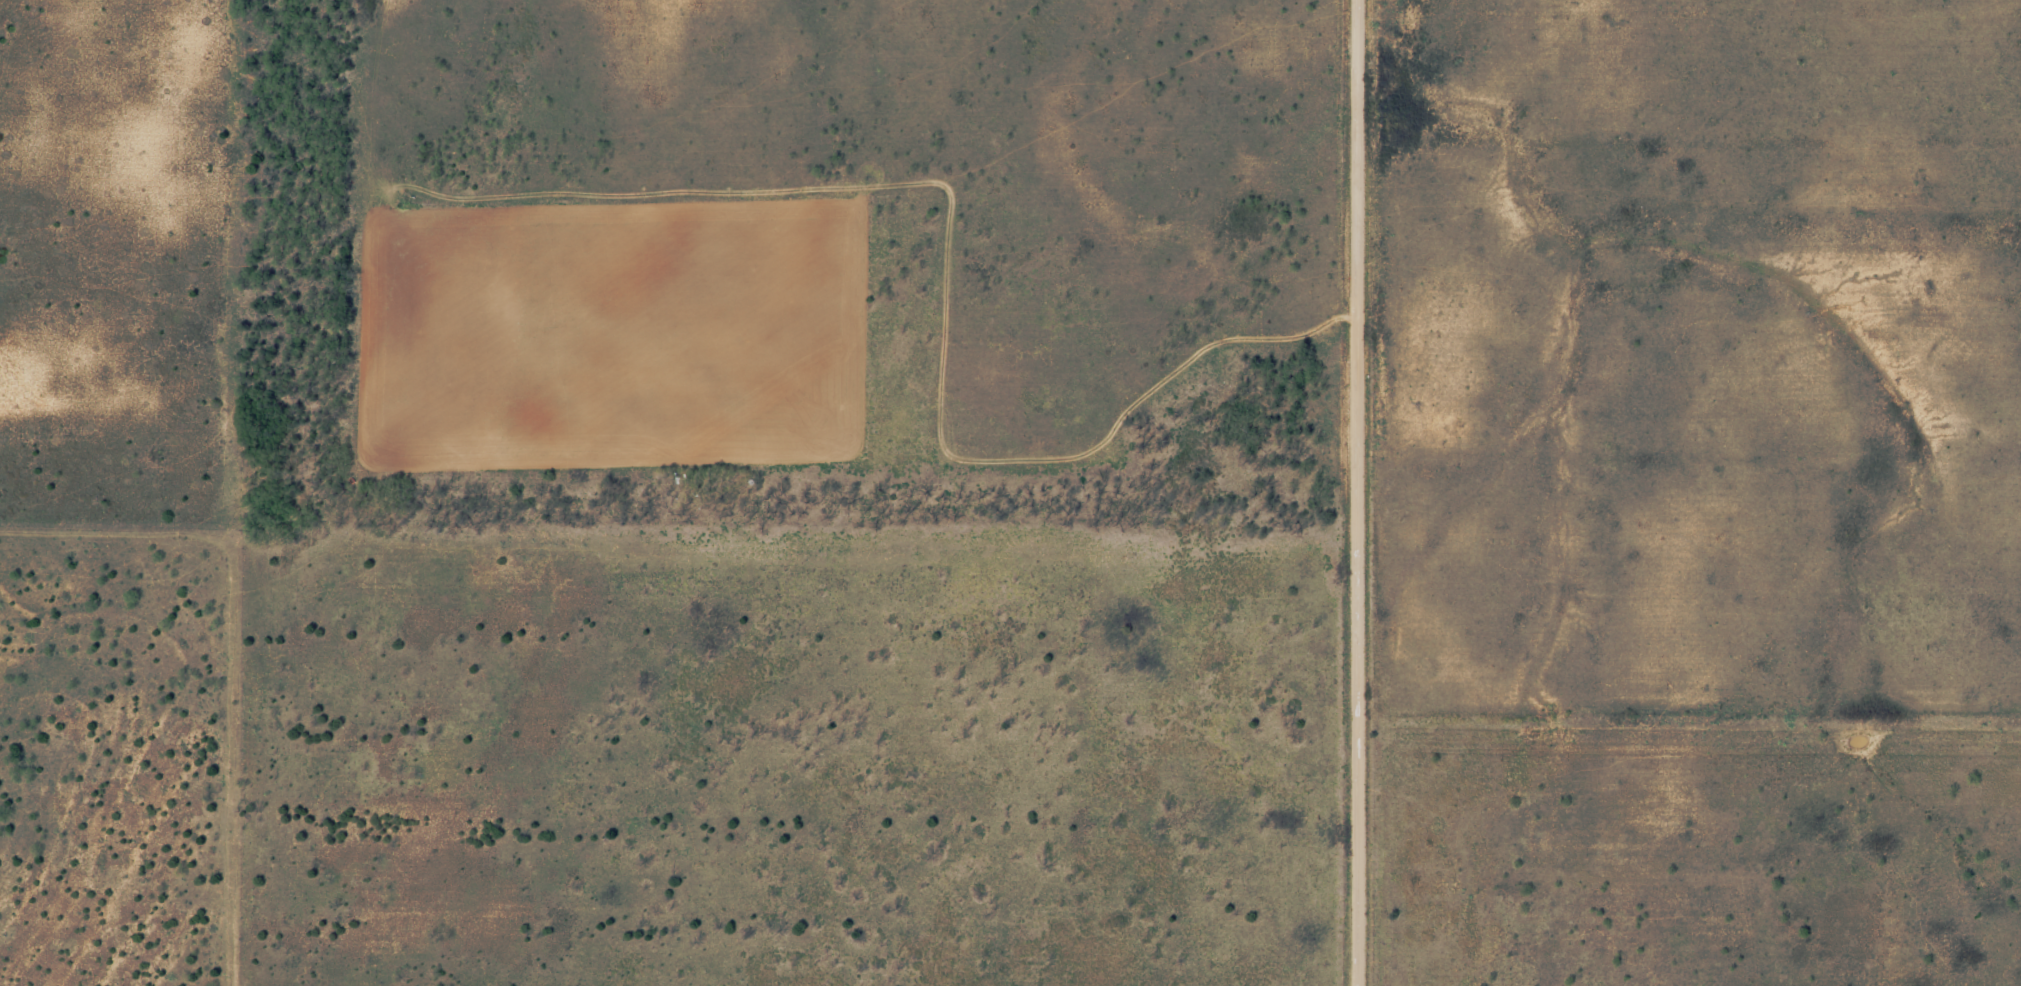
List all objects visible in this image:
road: (1352, 493)

